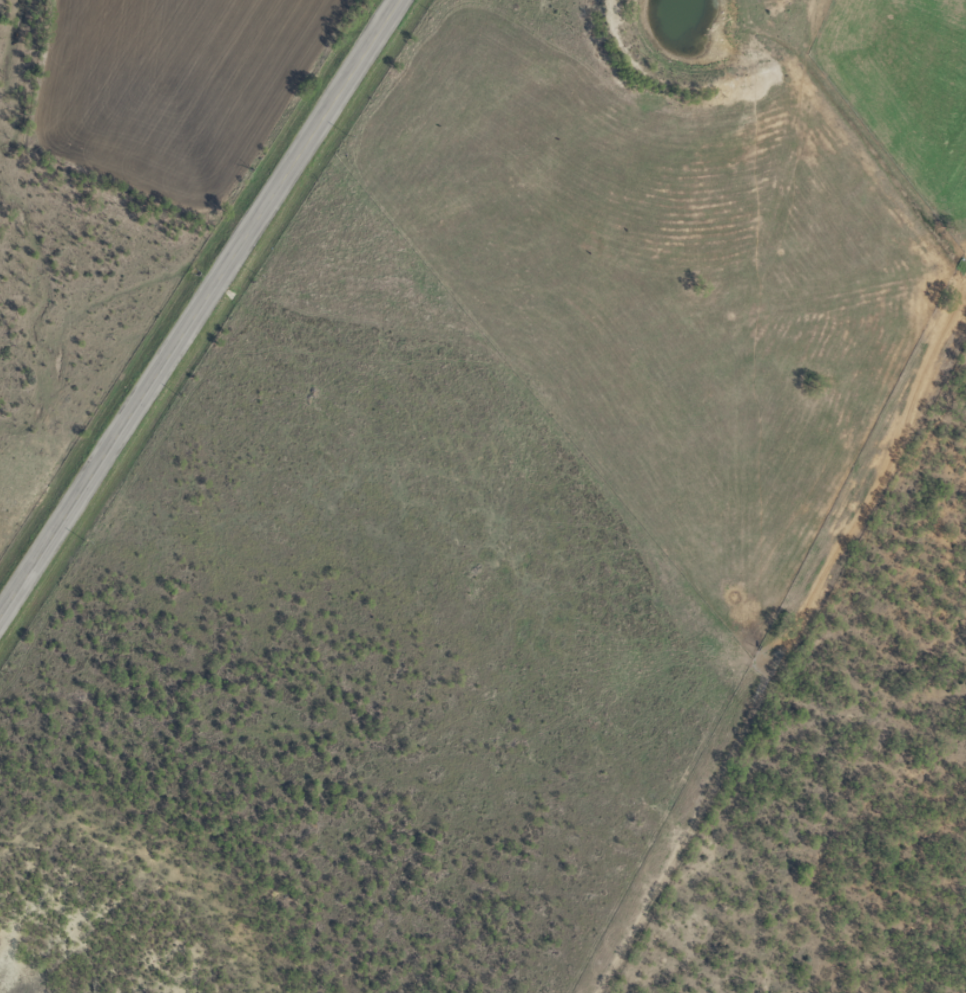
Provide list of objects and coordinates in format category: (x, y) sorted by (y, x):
crop: (180, 85)
road: (461, 269)
road: (204, 312)

